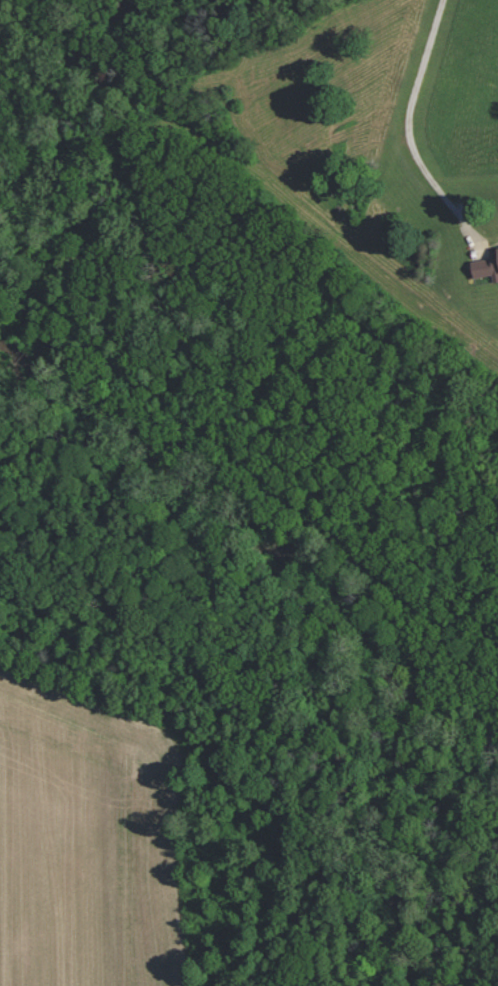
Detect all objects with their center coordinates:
road: (404, 117)
building: (486, 266)

